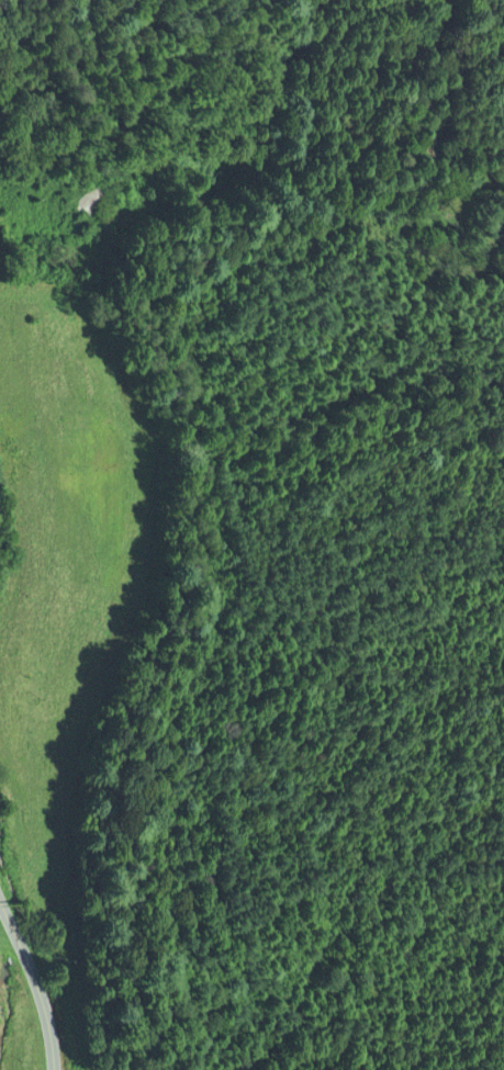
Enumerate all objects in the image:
building: (141, 198)
road: (36, 983)

